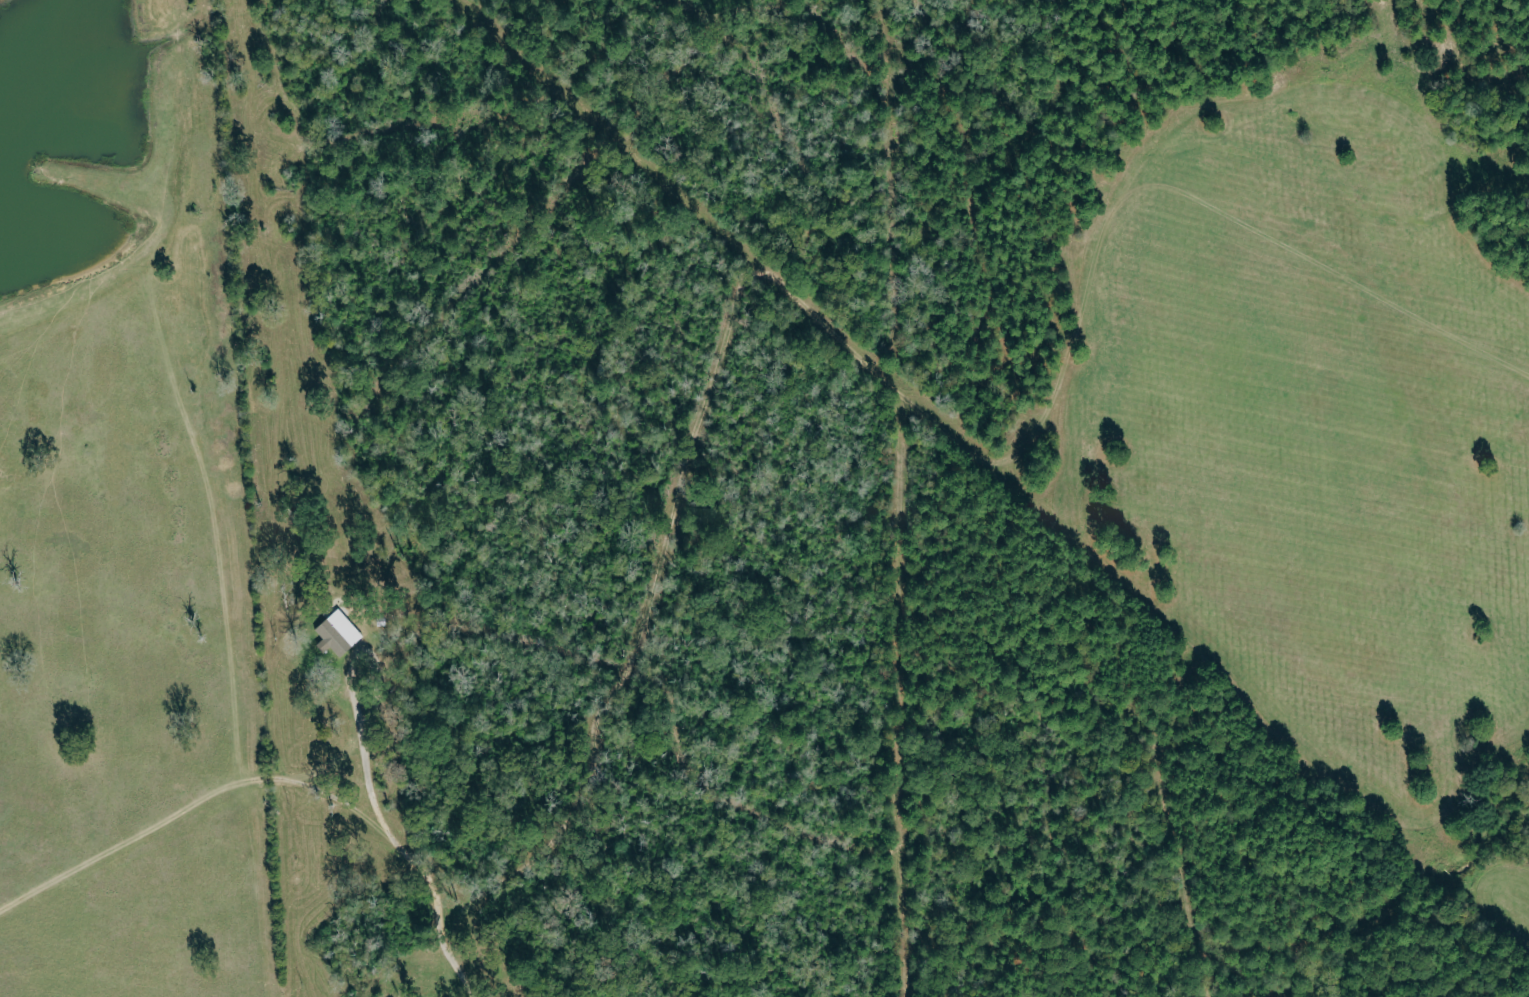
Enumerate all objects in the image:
building: (338, 633)
road: (399, 845)

